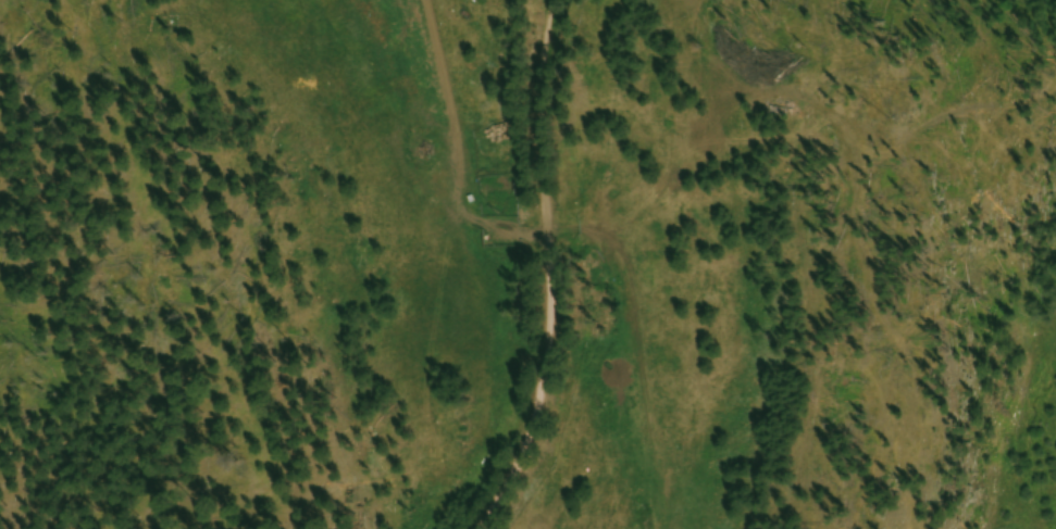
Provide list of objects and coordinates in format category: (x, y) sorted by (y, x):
road: (550, 269)

